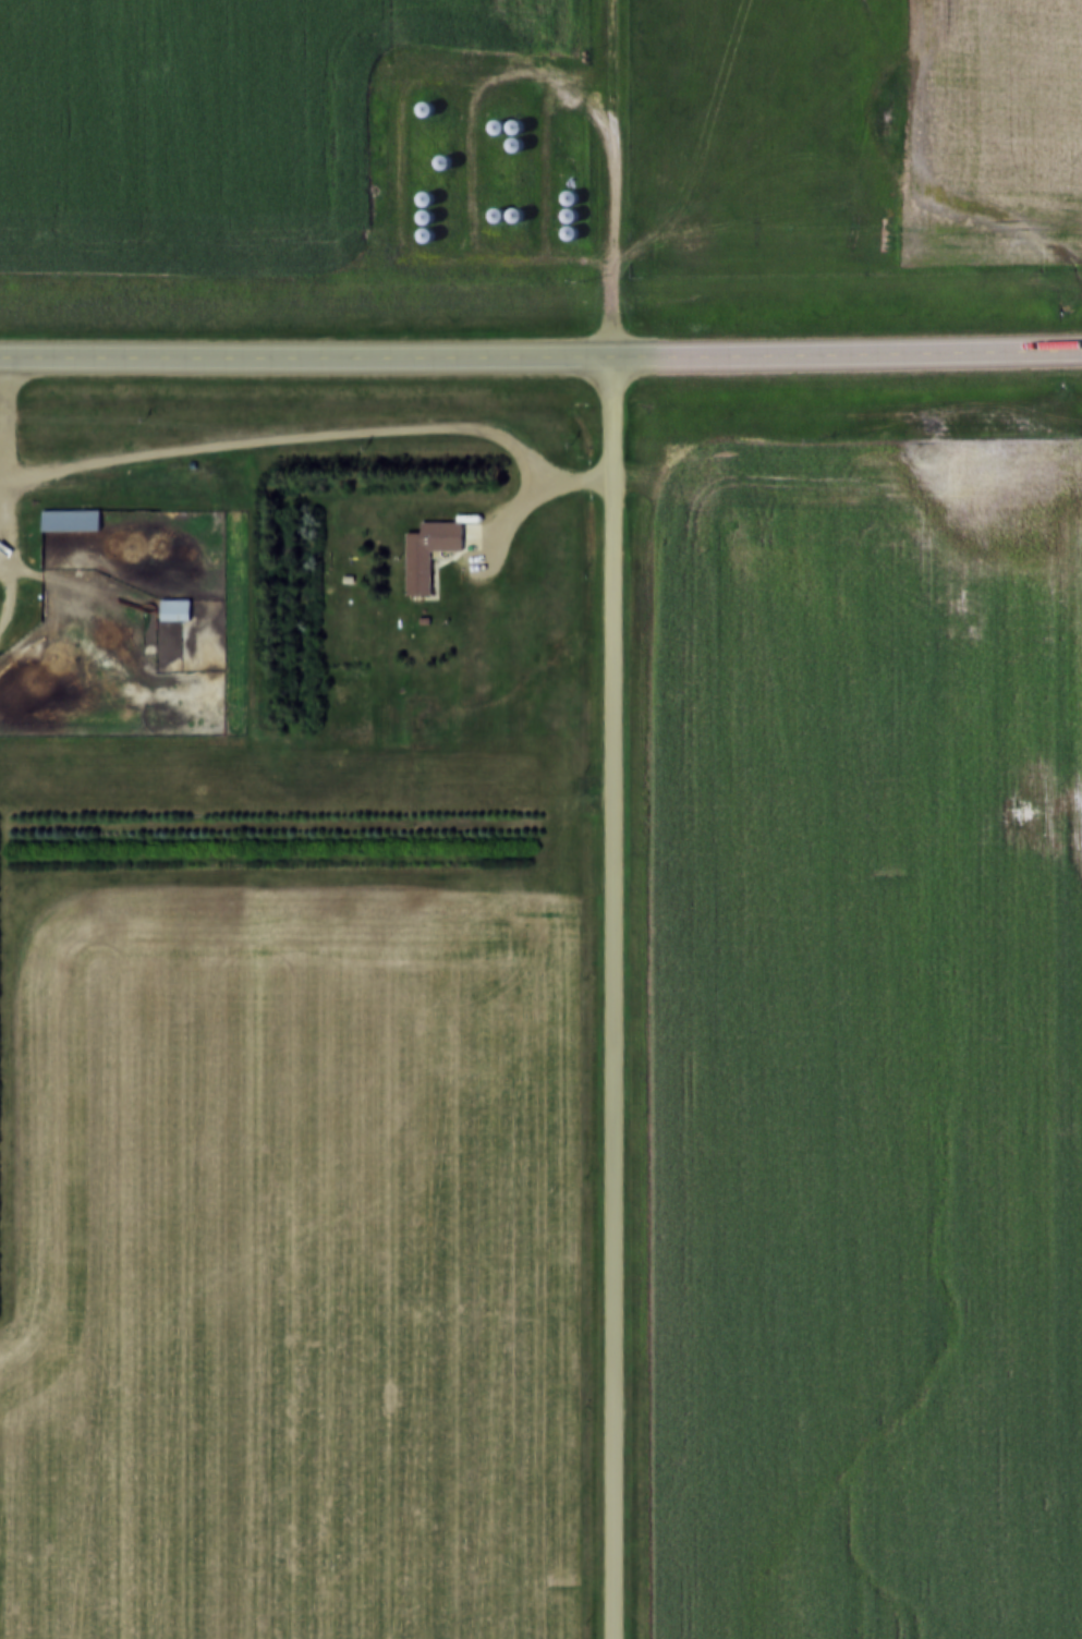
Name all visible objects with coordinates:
building: (424, 104)
silo: (424, 104)
building: (496, 122)
silo: (496, 122)
building: (513, 122)
silo: (513, 122)
building: (513, 139)
silo: (513, 139)
building: (442, 156)
silo: (442, 156)
building: (569, 192)
silo: (569, 192)
building: (424, 193)
silo: (424, 193)
building: (496, 209)
silo: (496, 209)
building: (514, 209)
silo: (514, 209)
building: (568, 210)
silo: (568, 210)
building: (424, 211)
silo: (424, 211)
building: (569, 228)
silo: (569, 228)
building: (425, 229)
silo: (425, 229)
road: (540, 371)
building: (69, 517)
building: (425, 548)
building: (345, 576)
building: (173, 607)
road: (613, 1005)

